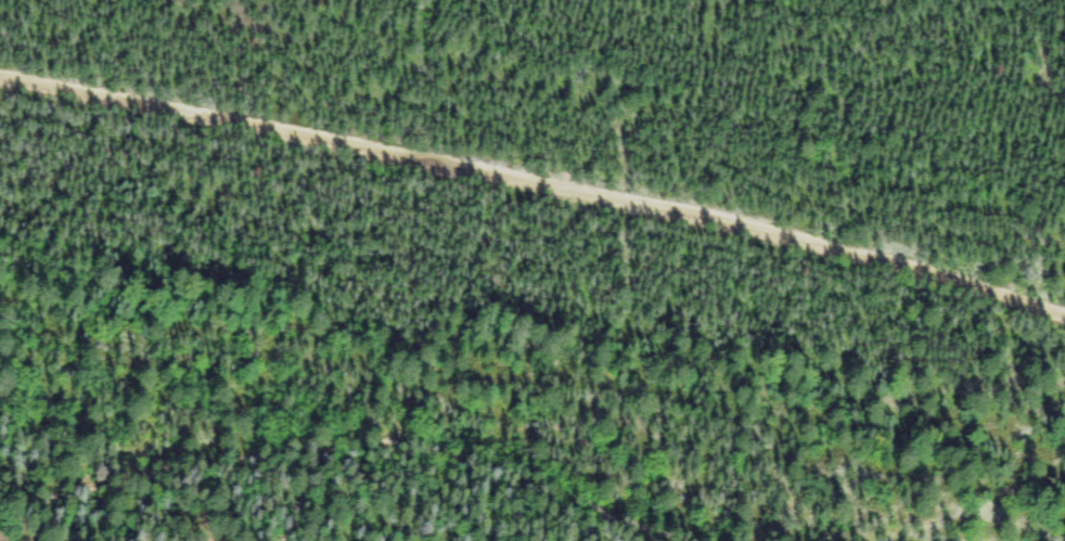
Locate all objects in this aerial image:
road: (536, 189)
road: (377, 488)

